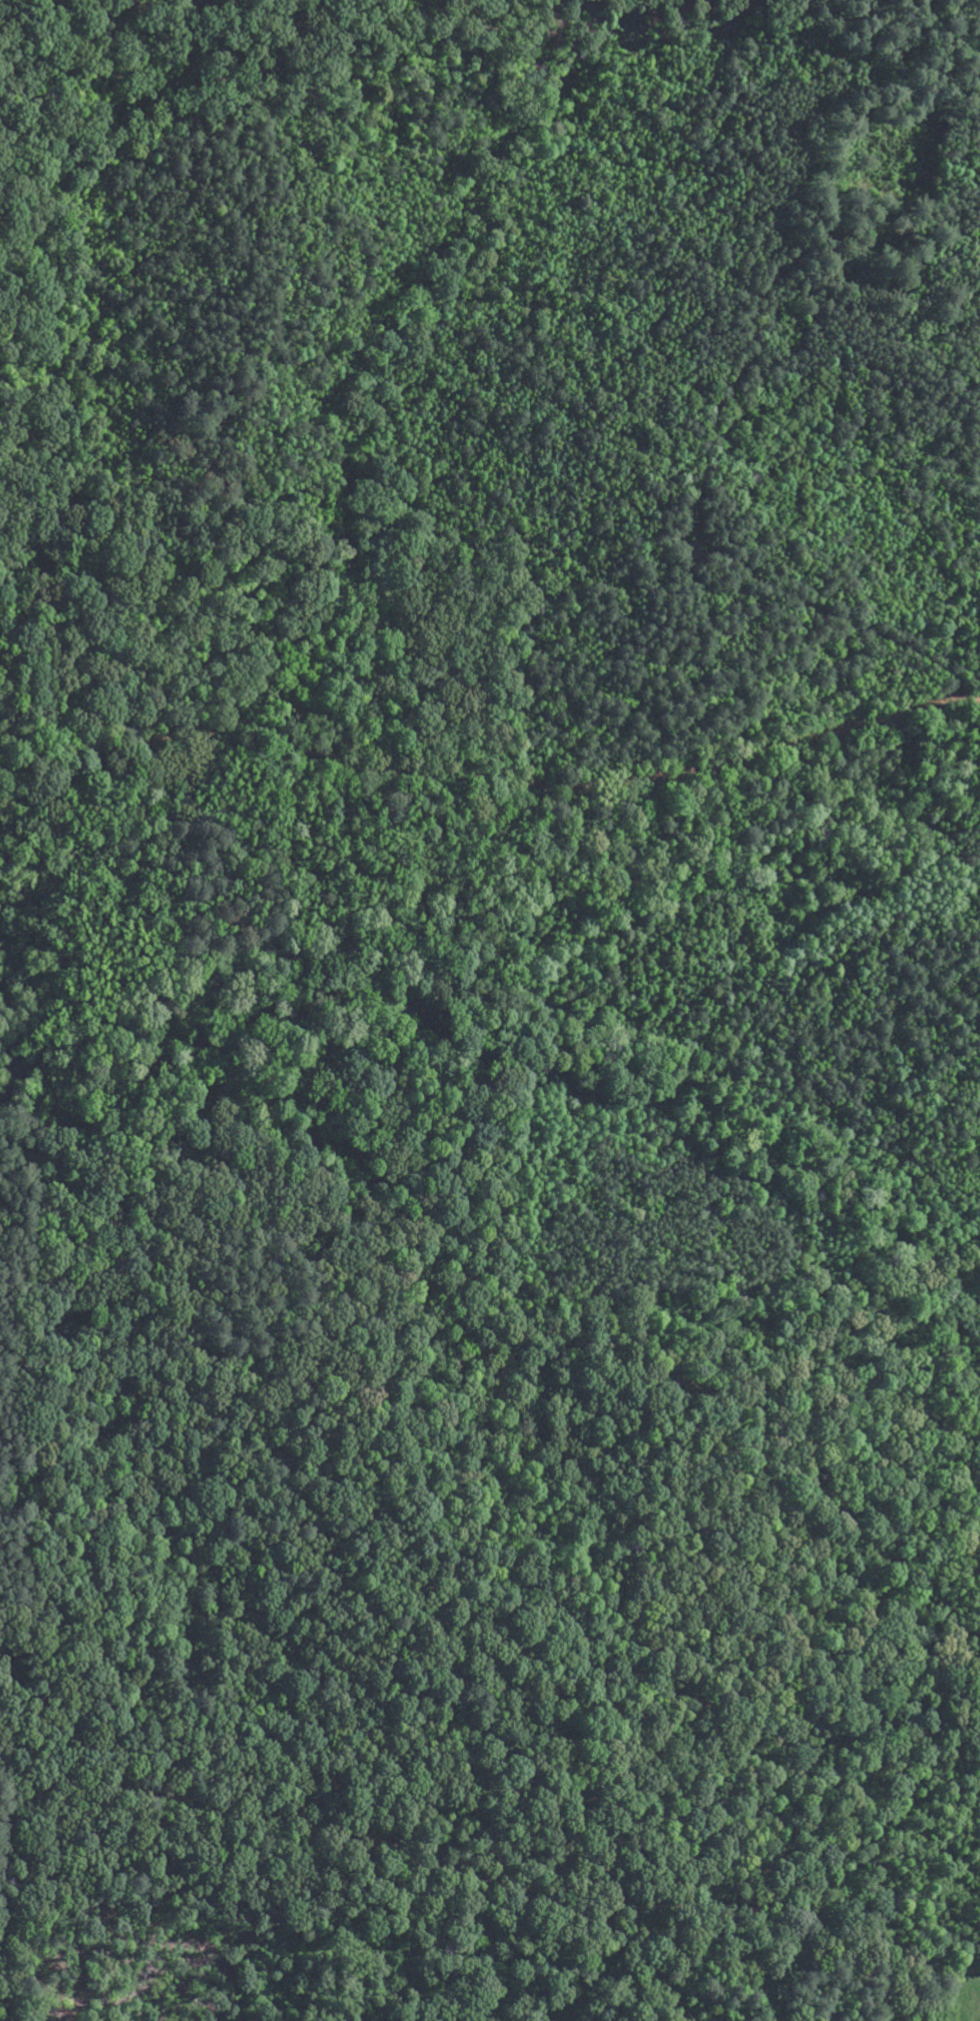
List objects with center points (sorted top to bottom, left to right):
road: (199, 369)
road: (490, 778)
road: (262, 1819)

